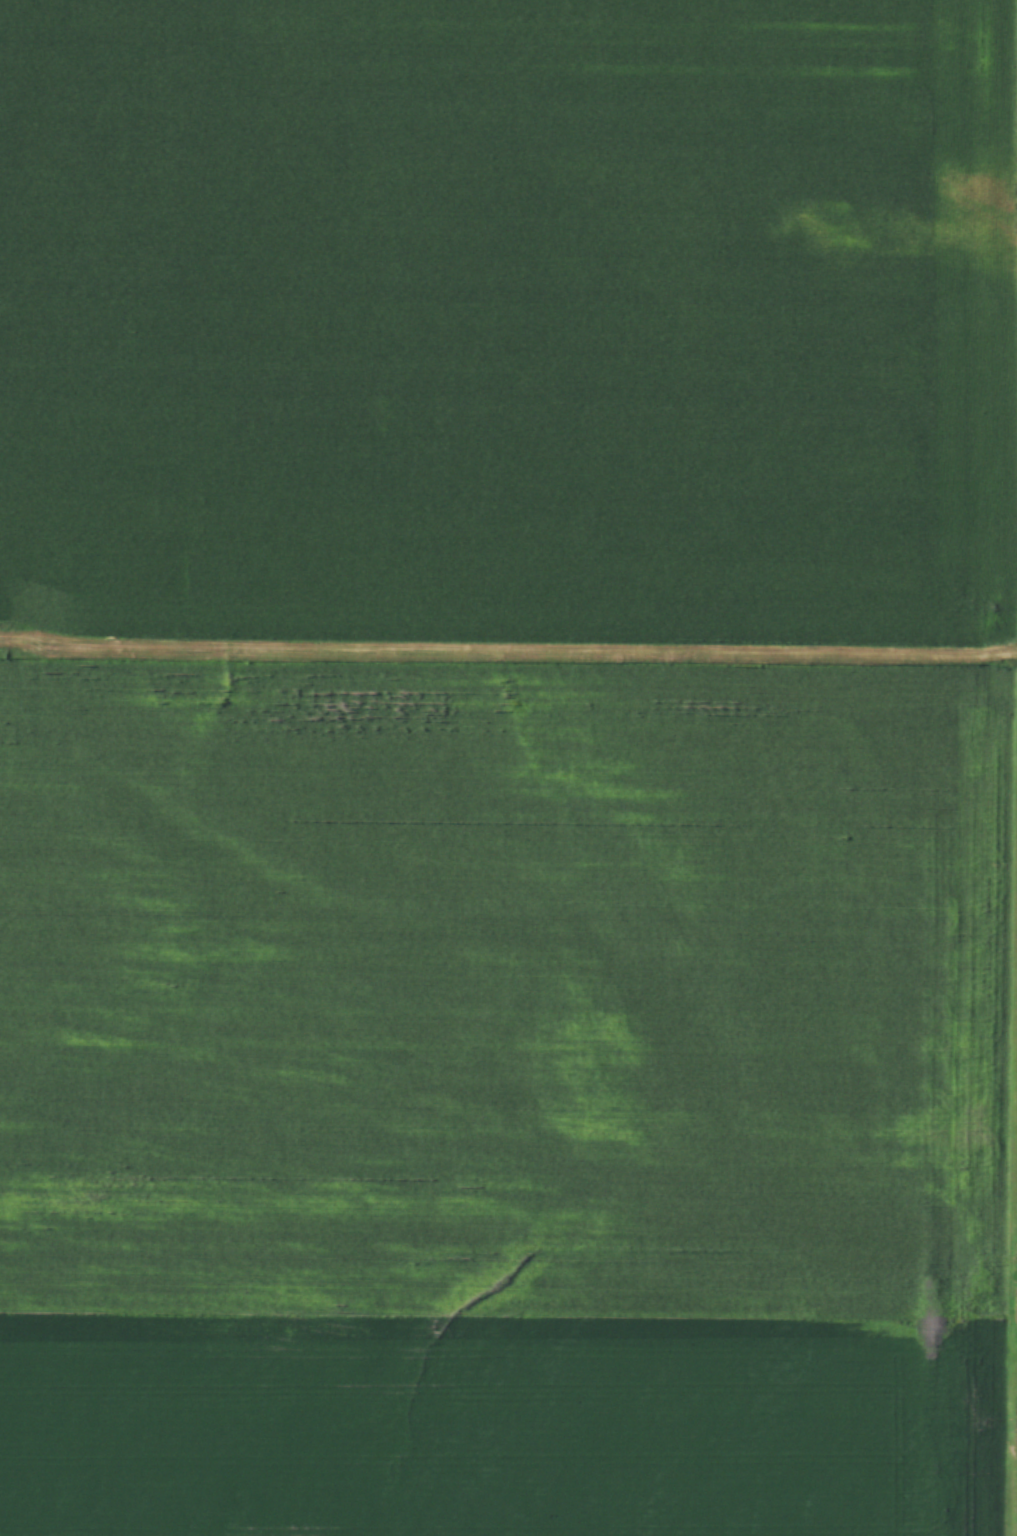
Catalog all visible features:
road: (508, 641)

